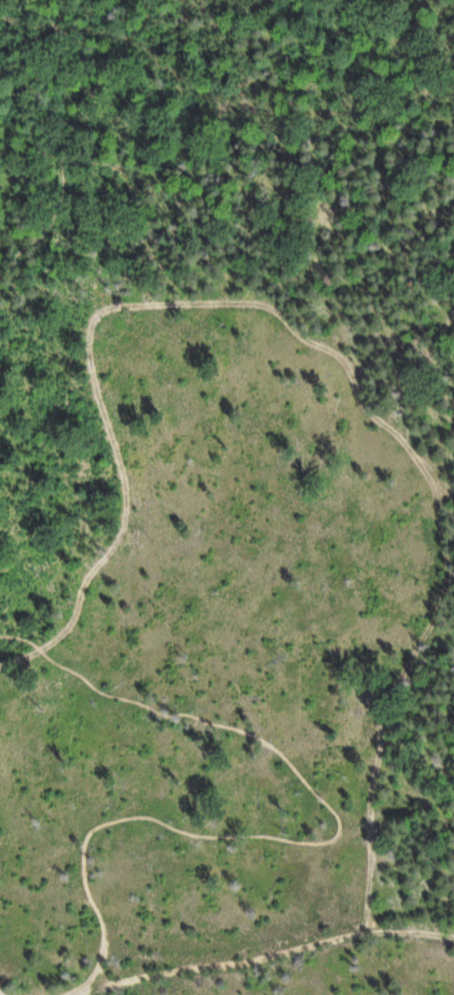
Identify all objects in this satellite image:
road: (66, 142)
road: (331, 840)
road: (267, 958)
road: (1, 993)

